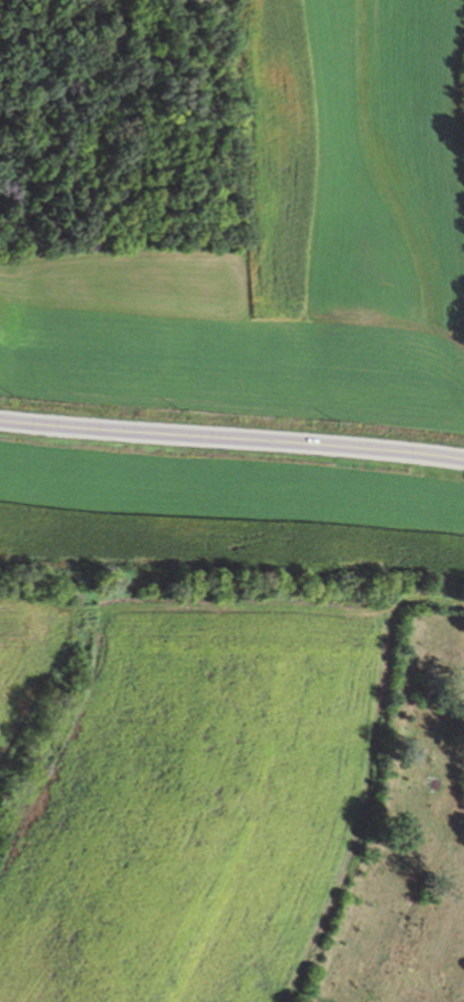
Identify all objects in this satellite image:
road: (232, 437)

